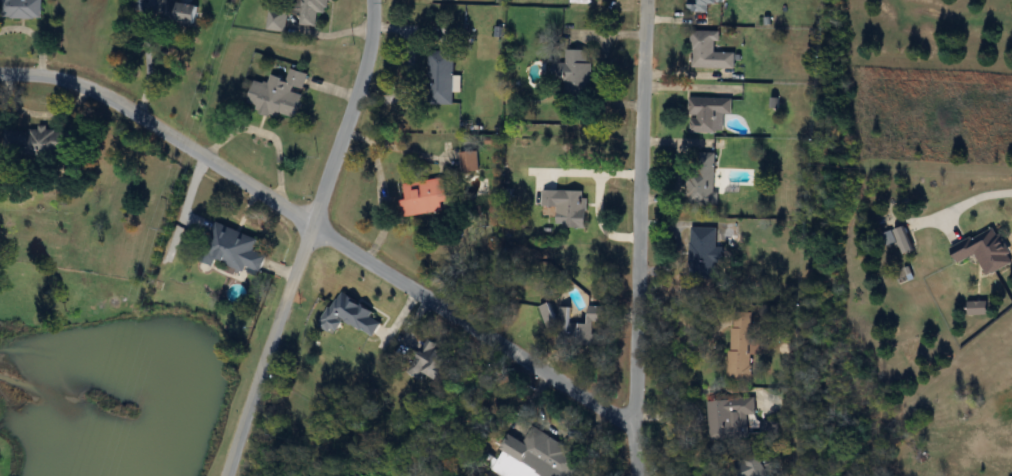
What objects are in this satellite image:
building: (703, 5)
building: (21, 9)
building: (314, 11)
building: (182, 13)
building: (279, 20)
building: (710, 51)
road: (146, 59)
building: (575, 74)
building: (442, 77)
building: (281, 94)
building: (709, 113)
building: (39, 141)
building: (470, 161)
building: (703, 179)
building: (424, 196)
road: (973, 199)
building: (568, 206)
road: (323, 230)
road: (638, 238)
road: (309, 239)
building: (235, 249)
building: (986, 250)
building: (705, 253)
building: (350, 315)
building: (574, 324)
building: (741, 346)
building: (435, 361)
building: (731, 419)
building: (771, 427)
building: (536, 457)
building: (756, 466)

